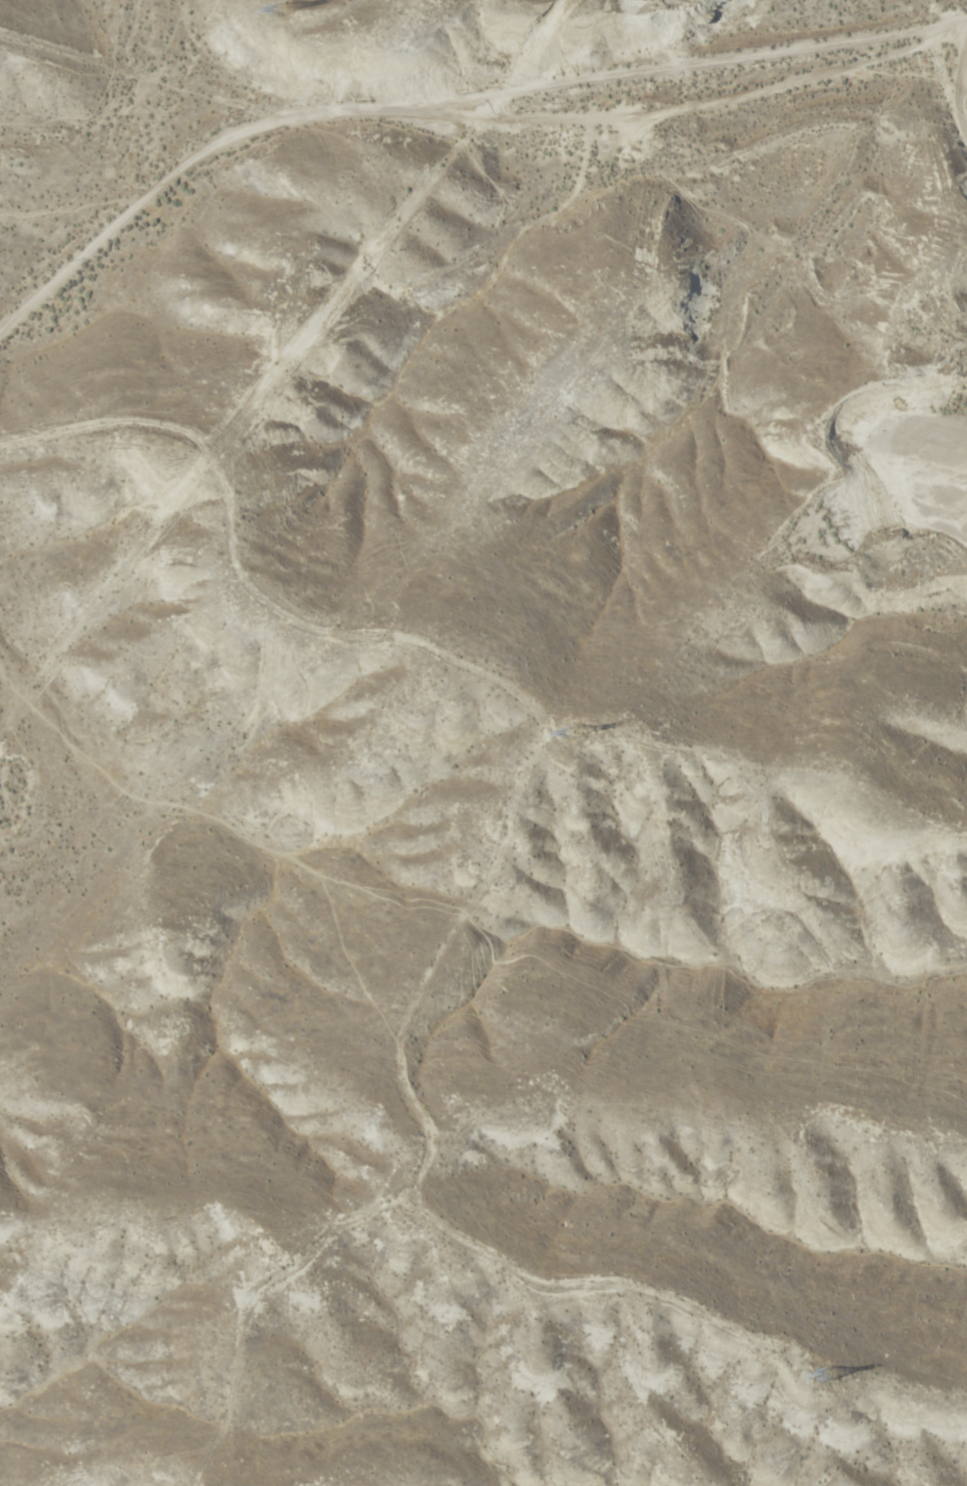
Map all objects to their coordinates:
power tower: (280, 10)
road: (449, 109)
road: (931, 165)
power tower: (572, 734)
power tower: (825, 1374)

